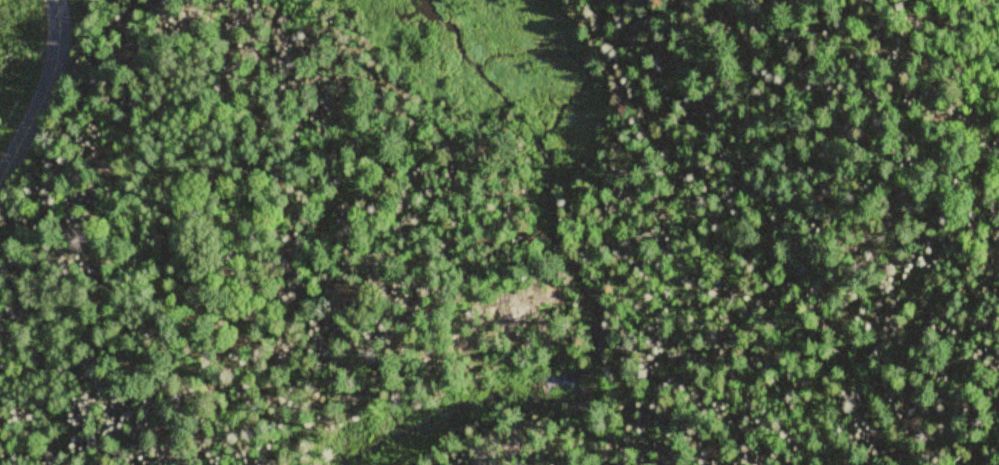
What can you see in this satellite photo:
road: (42, 90)

